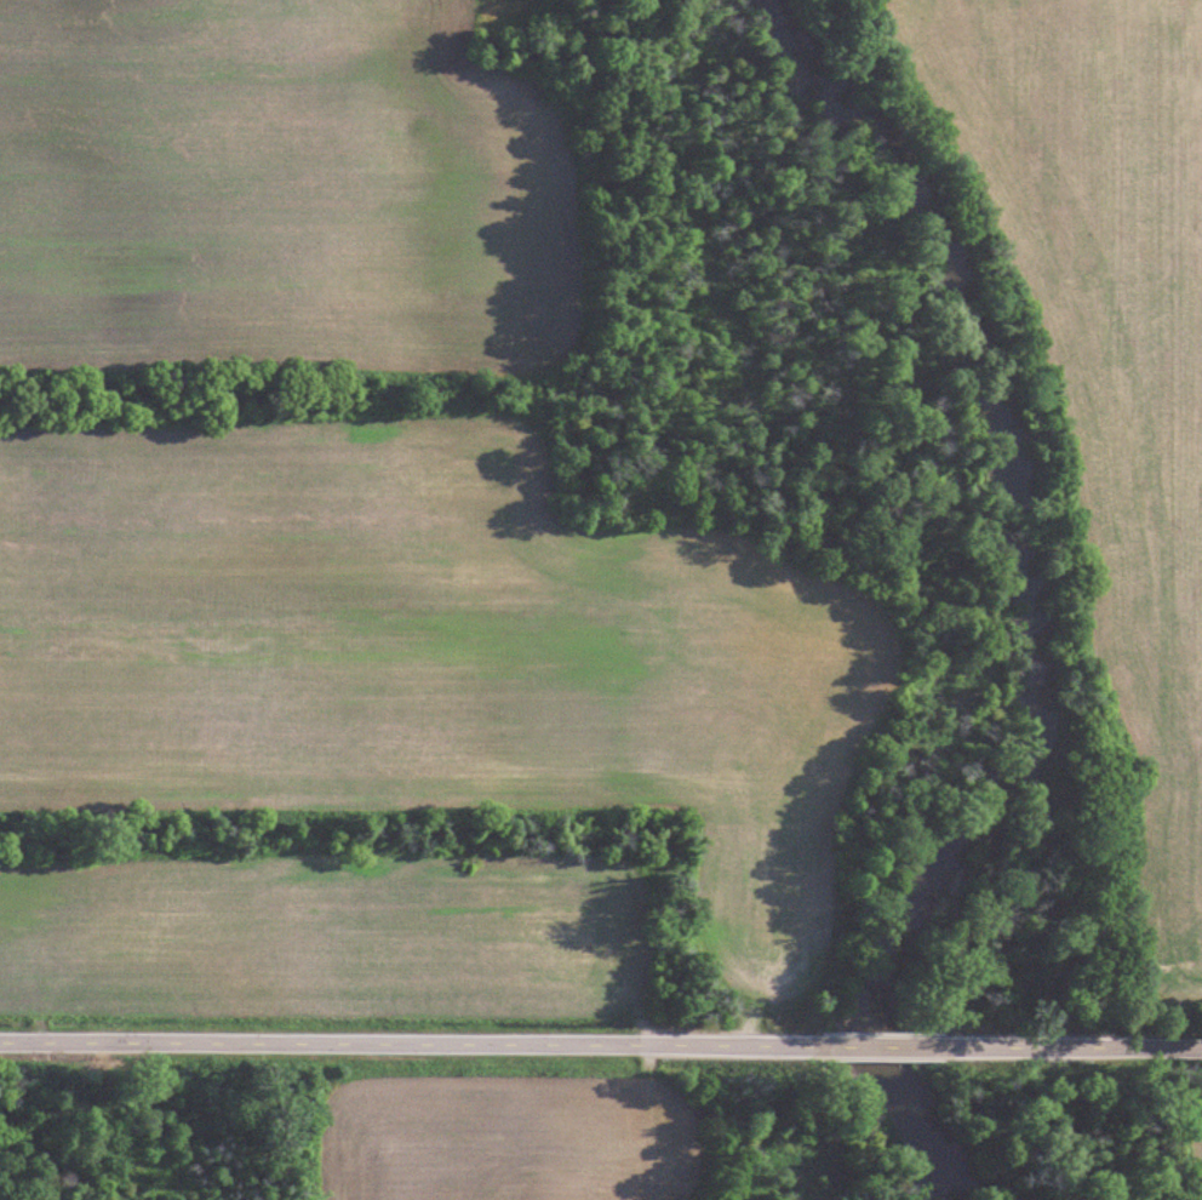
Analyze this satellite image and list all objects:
river: (1028, 610)
road: (425, 1042)
road: (922, 1044)
road: (1098, 1045)

